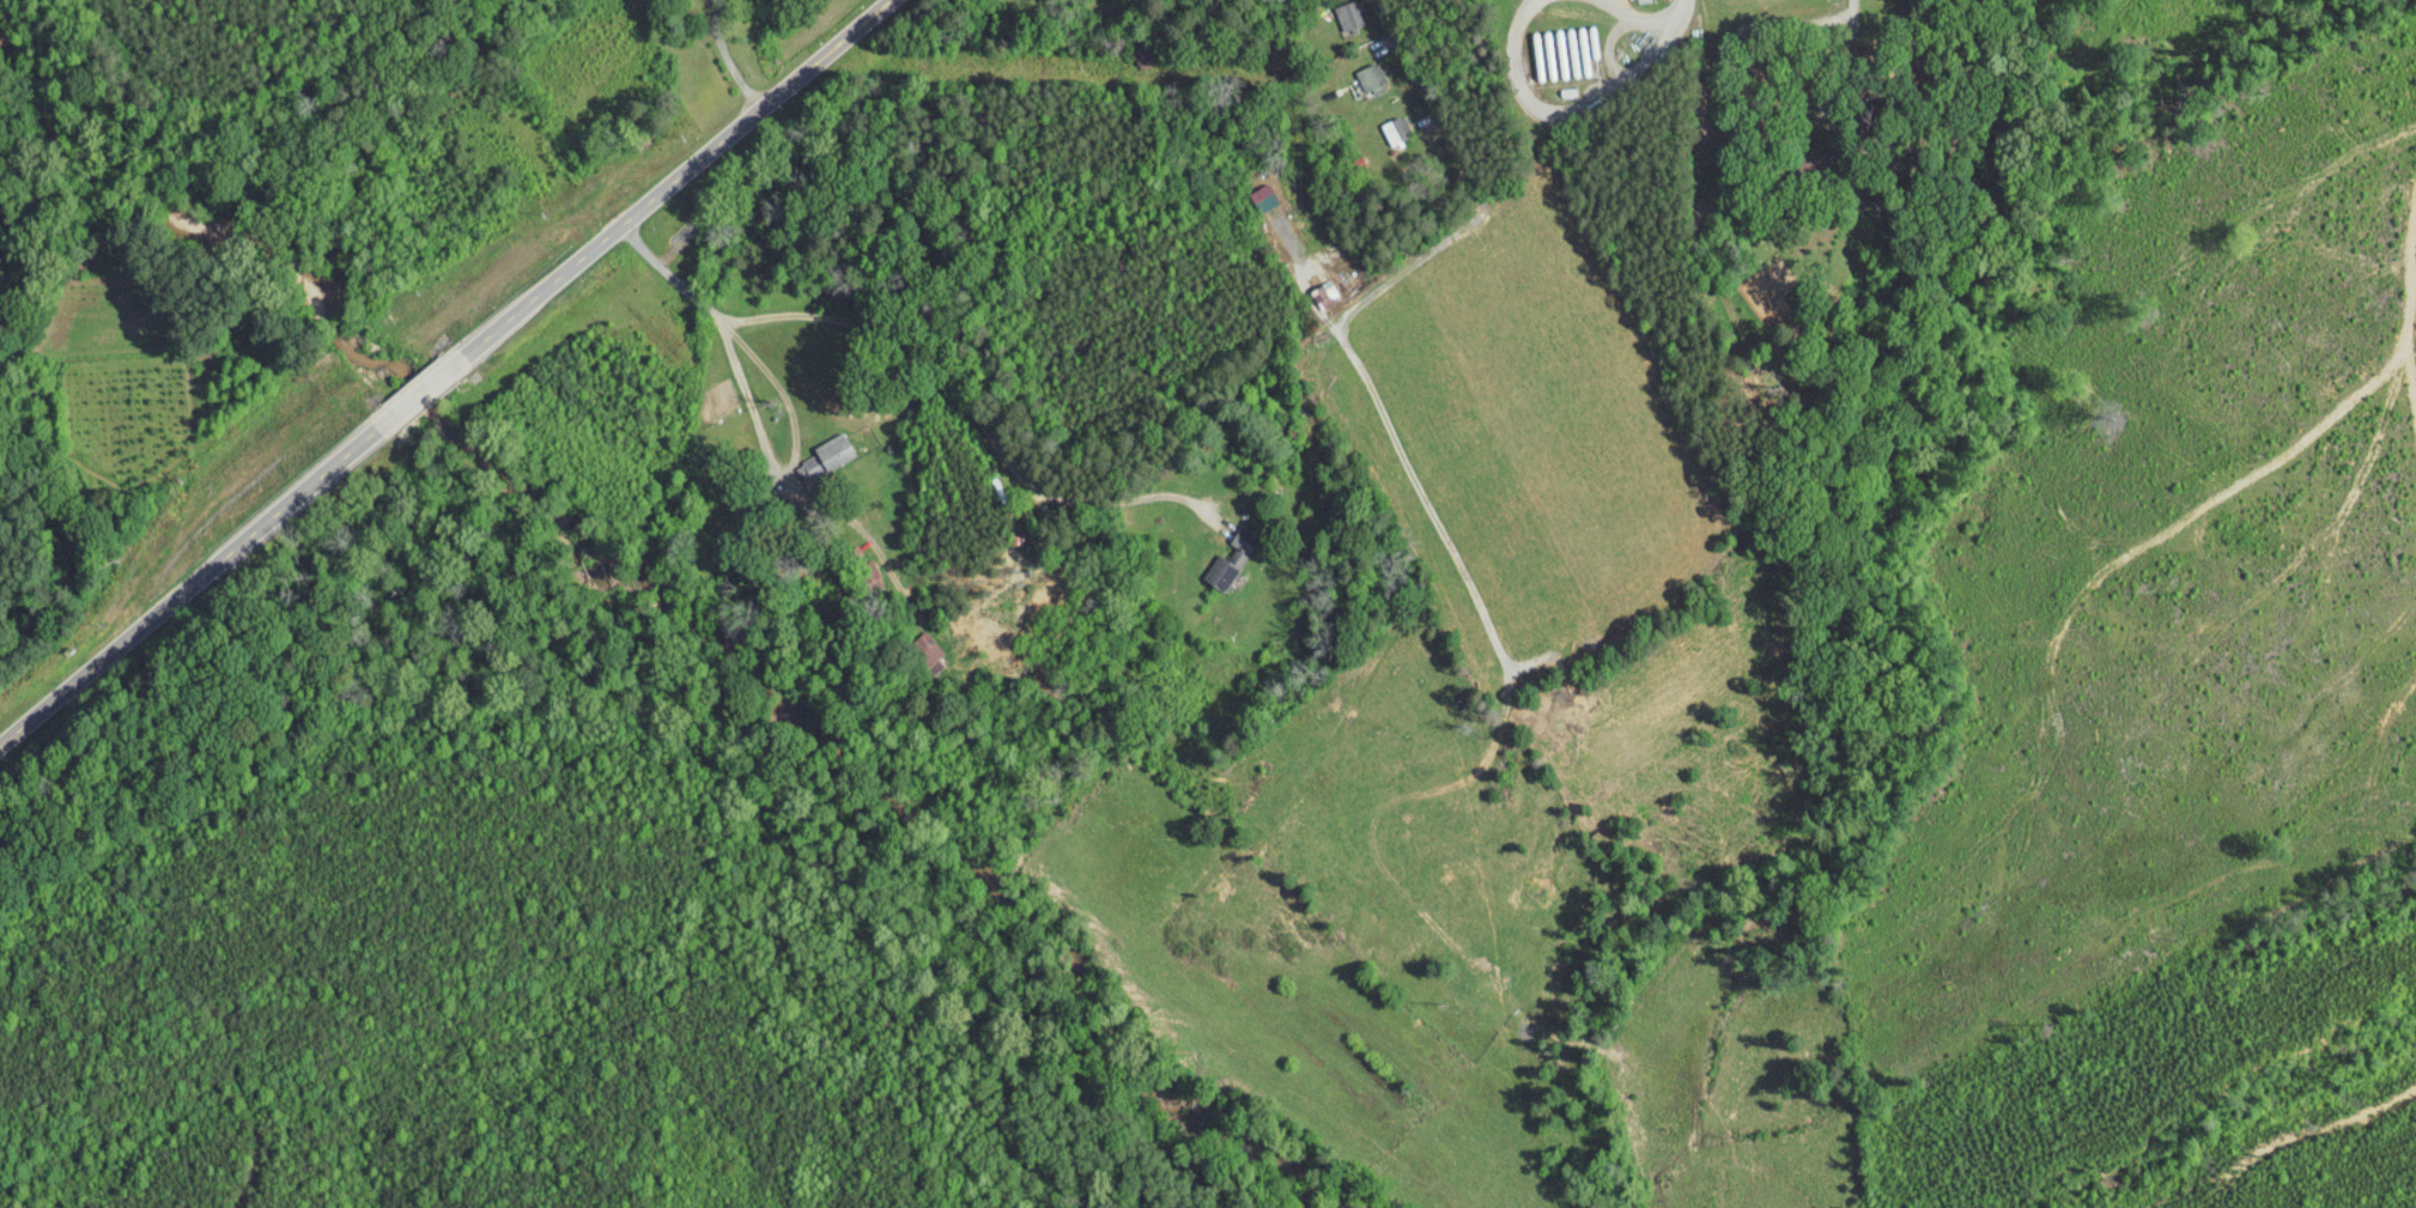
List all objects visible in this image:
road: (1676, 8)
building: (1335, 10)
road: (1635, 18)
road: (728, 60)
road: (1853, 60)
building: (1355, 69)
road: (1566, 115)
building: (1382, 122)
road: (1471, 182)
road: (667, 189)
building: (1249, 189)
building: (1311, 286)
road: (930, 368)
road: (425, 391)
road: (748, 401)
building: (813, 448)
building: (1228, 541)
building: (1206, 566)
road: (206, 576)
building: (912, 644)

